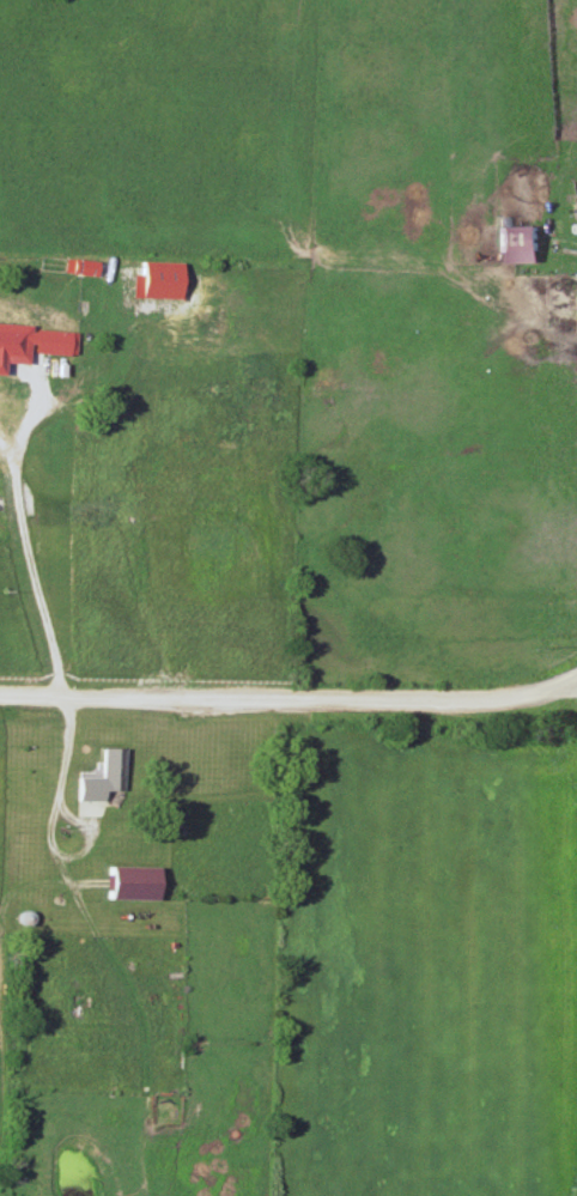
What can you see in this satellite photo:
building: (520, 244)
building: (84, 267)
building: (162, 271)
building: (211, 318)
building: (14, 333)
building: (53, 341)
road: (43, 397)
road: (34, 565)
road: (565, 691)
road: (290, 702)
road: (69, 727)
building: (111, 769)
building: (30, 784)
road: (79, 820)
building: (134, 882)

